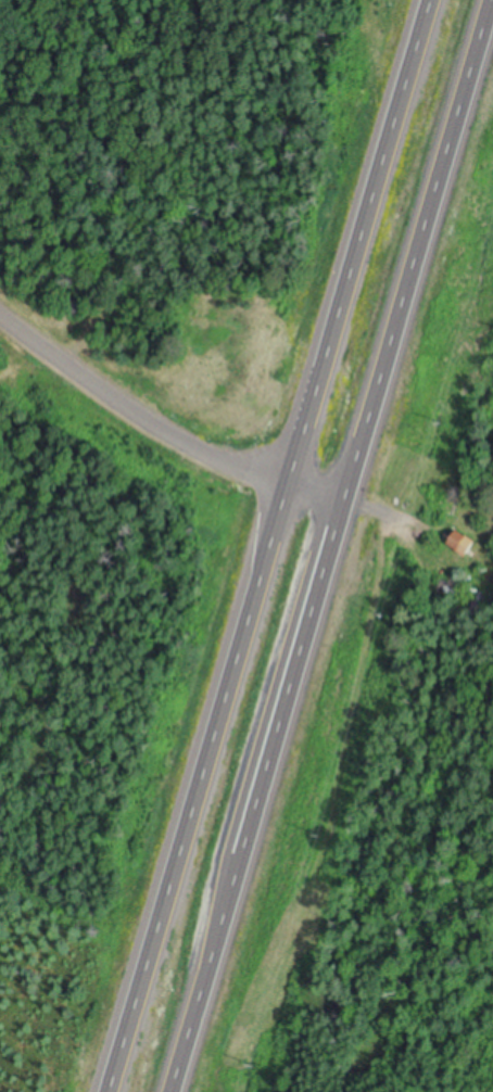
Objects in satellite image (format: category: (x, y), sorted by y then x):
road: (418, 250)
road: (161, 426)
road: (384, 511)
road: (267, 546)
building: (462, 546)
road: (281, 718)
road: (194, 1014)

